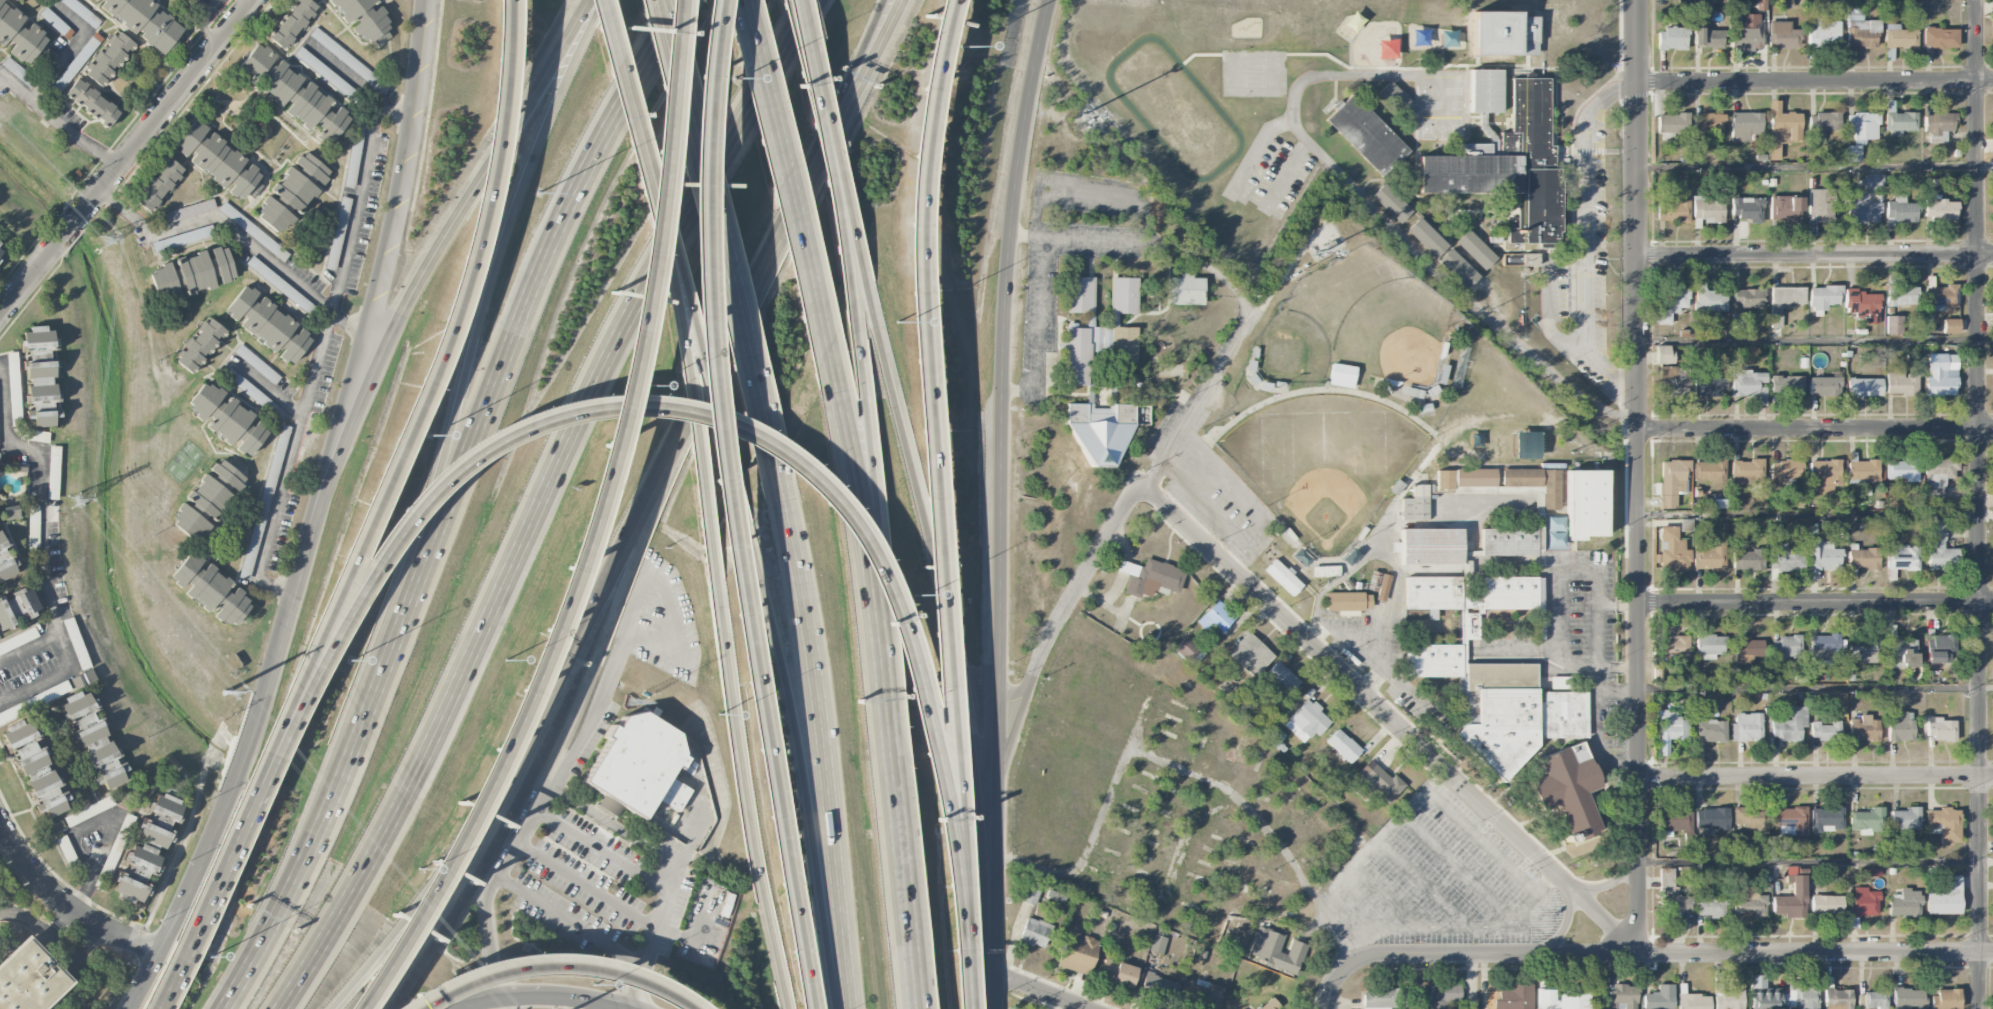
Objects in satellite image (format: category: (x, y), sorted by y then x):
building: (18, 0)
building: (187, 0)
building: (1992, 7)
building: (82, 12)
road: (673, 15)
building: (365, 19)
building: (145, 21)
road: (203, 21)
building: (1992, 22)
building: (292, 23)
building: (57, 24)
building: (20, 32)
building: (1503, 33)
building: (1746, 33)
building: (1861, 33)
building: (1823, 34)
building: (1706, 36)
building: (1782, 36)
building: (1899, 37)
building: (1939, 38)
building: (1671, 39)
street lamp: (960, 45)
road: (68, 52)
building: (109, 58)
building: (345, 58)
road: (808, 61)
building: (324, 72)
road: (344, 74)
road: (1319, 75)
street lamp: (733, 78)
road: (1815, 82)
road: (845, 90)
road: (854, 90)
building: (1485, 90)
building: (292, 93)
building: (1396, 100)
building: (92, 102)
road: (170, 102)
road: (633, 120)
road: (58, 122)
building: (1708, 123)
building: (1899, 123)
building: (1671, 125)
building: (1744, 125)
building: (1821, 125)
building: (1938, 126)
building: (1781, 129)
building: (1992, 129)
building: (1860, 132)
building: (1366, 134)
road: (1257, 149)
road: (491, 156)
road: (660, 160)
building: (219, 161)
building: (1507, 165)
road: (1985, 165)
road: (1807, 166)
road: (787, 182)
building: (159, 185)
street lamp: (537, 192)
building: (293, 193)
road: (1092, 193)
road: (360, 195)
building: (1392, 202)
building: (1821, 204)
road: (847, 207)
building: (1784, 208)
building: (1747, 209)
building: (1707, 210)
building: (1900, 210)
building: (1939, 210)
building: (189, 211)
building: (1672, 211)
building: (1860, 211)
road: (839, 220)
road: (71, 226)
building: (337, 229)
road: (235, 231)
road: (717, 235)
road: (1583, 235)
road: (1022, 236)
building: (260, 237)
building: (1427, 237)
building: (184, 238)
power tower: (106, 239)
building: (1, 247)
building: (1476, 249)
road: (1815, 255)
road: (1436, 267)
building: (1458, 268)
building: (261, 270)
building: (192, 273)
road: (27, 280)
building: (1186, 289)
building: (1081, 294)
building: (1124, 294)
building: (1992, 295)
road: (368, 296)
building: (1901, 296)
building: (1823, 297)
building: (1747, 298)
building: (1941, 298)
building: (1710, 301)
building: (1784, 301)
building: (1670, 304)
building: (1863, 305)
road: (1040, 314)
street lamp: (896, 322)
building: (268, 325)
building: (1893, 325)
building: (1950, 326)
road: (474, 331)
road: (1986, 338)
park: (1299, 339)
road: (1807, 341)
building: (1125, 343)
park: (1403, 343)
building: (200, 345)
building: (1664, 354)
building: (1078, 356)
building: (257, 364)
building: (1341, 375)
building: (41, 376)
building: (1938, 377)
building: (1672, 381)
building: (1746, 383)
building: (1901, 383)
street lamp: (643, 385)
building: (1786, 385)
road: (708, 386)
building: (1823, 386)
building: (14, 387)
building: (1706, 387)
building: (1864, 387)
road: (1018, 388)
road: (268, 390)
building: (253, 393)
road: (1200, 398)
road: (418, 404)
road: (671, 407)
road: (696, 407)
road: (692, 412)
building: (227, 419)
building: (1104, 428)
road: (1815, 429)
building: (36, 435)
road: (934, 444)
building: (1525, 445)
road: (338, 447)
parking lot: (1210, 456)
road: (288, 462)
park: (1322, 463)
building: (1900, 469)
road: (998, 470)
building: (1863, 470)
building: (1708, 471)
building: (1785, 471)
building: (1746, 472)
building: (1823, 475)
building: (1937, 475)
building: (1464, 477)
road: (1637, 478)
building: (1670, 482)
building: (1534, 483)
building: (265, 498)
power tower: (75, 500)
building: (208, 500)
road: (539, 501)
road: (447, 502)
building: (1415, 503)
building: (1585, 504)
road: (1980, 504)
road: (724, 506)
building: (11, 512)
road: (1986, 512)
road: (918, 514)
road: (1256, 524)
building: (1509, 540)
building: (1429, 546)
building: (1938, 547)
road: (46, 548)
building: (1671, 551)
building: (1708, 554)
building: (1823, 556)
building: (1785, 558)
building: (1862, 558)
building: (1902, 558)
building: (6, 559)
building: (1747, 560)
road: (1355, 562)
building: (1325, 571)
road: (887, 576)
building: (1149, 577)
building: (1283, 577)
building: (1379, 585)
building: (211, 589)
street lamp: (916, 594)
road: (873, 600)
road: (1554, 601)
building: (1347, 602)
road: (1816, 602)
building: (18, 608)
building: (1218, 616)
road: (1056, 619)
road: (1314, 619)
parking lot: (660, 620)
road: (628, 627)
road: (1381, 629)
road: (601, 644)
building: (1709, 644)
building: (1747, 646)
building: (1785, 646)
building: (1675, 647)
building: (1824, 647)
road: (30, 649)
building: (1862, 649)
building: (1188, 650)
building: (1900, 650)
building: (1250, 655)
street lamp: (506, 660)
building: (1741, 660)
road: (535, 663)
road: (1615, 668)
building: (1491, 674)
building: (1281, 677)
building: (83, 679)
road: (1593, 679)
road: (1815, 686)
power tower: (224, 692)
street lamp: (719, 715)
building: (1308, 719)
building: (1788, 724)
building: (1671, 725)
building: (1899, 727)
building: (1746, 728)
building: (1864, 728)
building: (1940, 729)
building: (1712, 730)
building: (1824, 730)
road: (815, 739)
building: (1275, 739)
building: (95, 740)
road: (1594, 743)
building: (1343, 746)
building: (638, 764)
building: (36, 768)
road: (1181, 768)
road: (796, 770)
road: (1816, 777)
building: (1380, 784)
building: (1565, 790)
road: (748, 797)
building: (1335, 799)
road: (222, 803)
building: (1711, 819)
building: (1749, 819)
building: (1826, 819)
building: (1905, 819)
road: (699, 820)
building: (1789, 820)
road: (112, 821)
building: (160, 821)
building: (1675, 821)
building: (1867, 821)
road: (484, 823)
road: (614, 824)
building: (1943, 825)
road: (467, 827)
road: (1476, 835)
road: (980, 839)
road: (1518, 840)
road: (603, 849)
road: (1986, 861)
street lamp: (419, 869)
building: (137, 872)
road: (220, 878)
road: (1542, 880)
road: (490, 883)
road: (1608, 883)
road: (586, 885)
parking lot: (608, 890)
building: (1030, 894)
building: (1055, 896)
building: (1671, 897)
building: (1792, 898)
building: (1944, 898)
building: (1748, 902)
building: (1863, 903)
building: (1904, 903)
road: (66, 904)
building: (1709, 904)
building: (1826, 905)
road: (1334, 917)
road: (570, 920)
road: (916, 922)
building: (1034, 933)
road: (94, 935)
road: (45, 936)
road: (654, 936)
building: (1157, 944)
building: (1276, 949)
road: (963, 950)
building: (1201, 954)
building: (1077, 955)
road: (1467, 956)
street lamp: (209, 957)
road: (549, 964)
building: (1117, 973)
road: (990, 977)
building: (28, 979)
road: (171, 988)
building: (1158, 988)
road: (1038, 990)
building: (1442, 995)
road: (538, 996)
building: (1201, 996)
building: (1622, 996)
building: (1514, 997)
building: (1802, 997)
building: (1659, 998)
building: (1764, 998)
building: (1837, 998)
building: (1908, 998)
building: (1374, 999)
building: (1406, 999)
building: (1562, 999)
building: (1875, 999)
building: (1948, 999)
building: (1694, 1001)
building: (1268, 1005)

